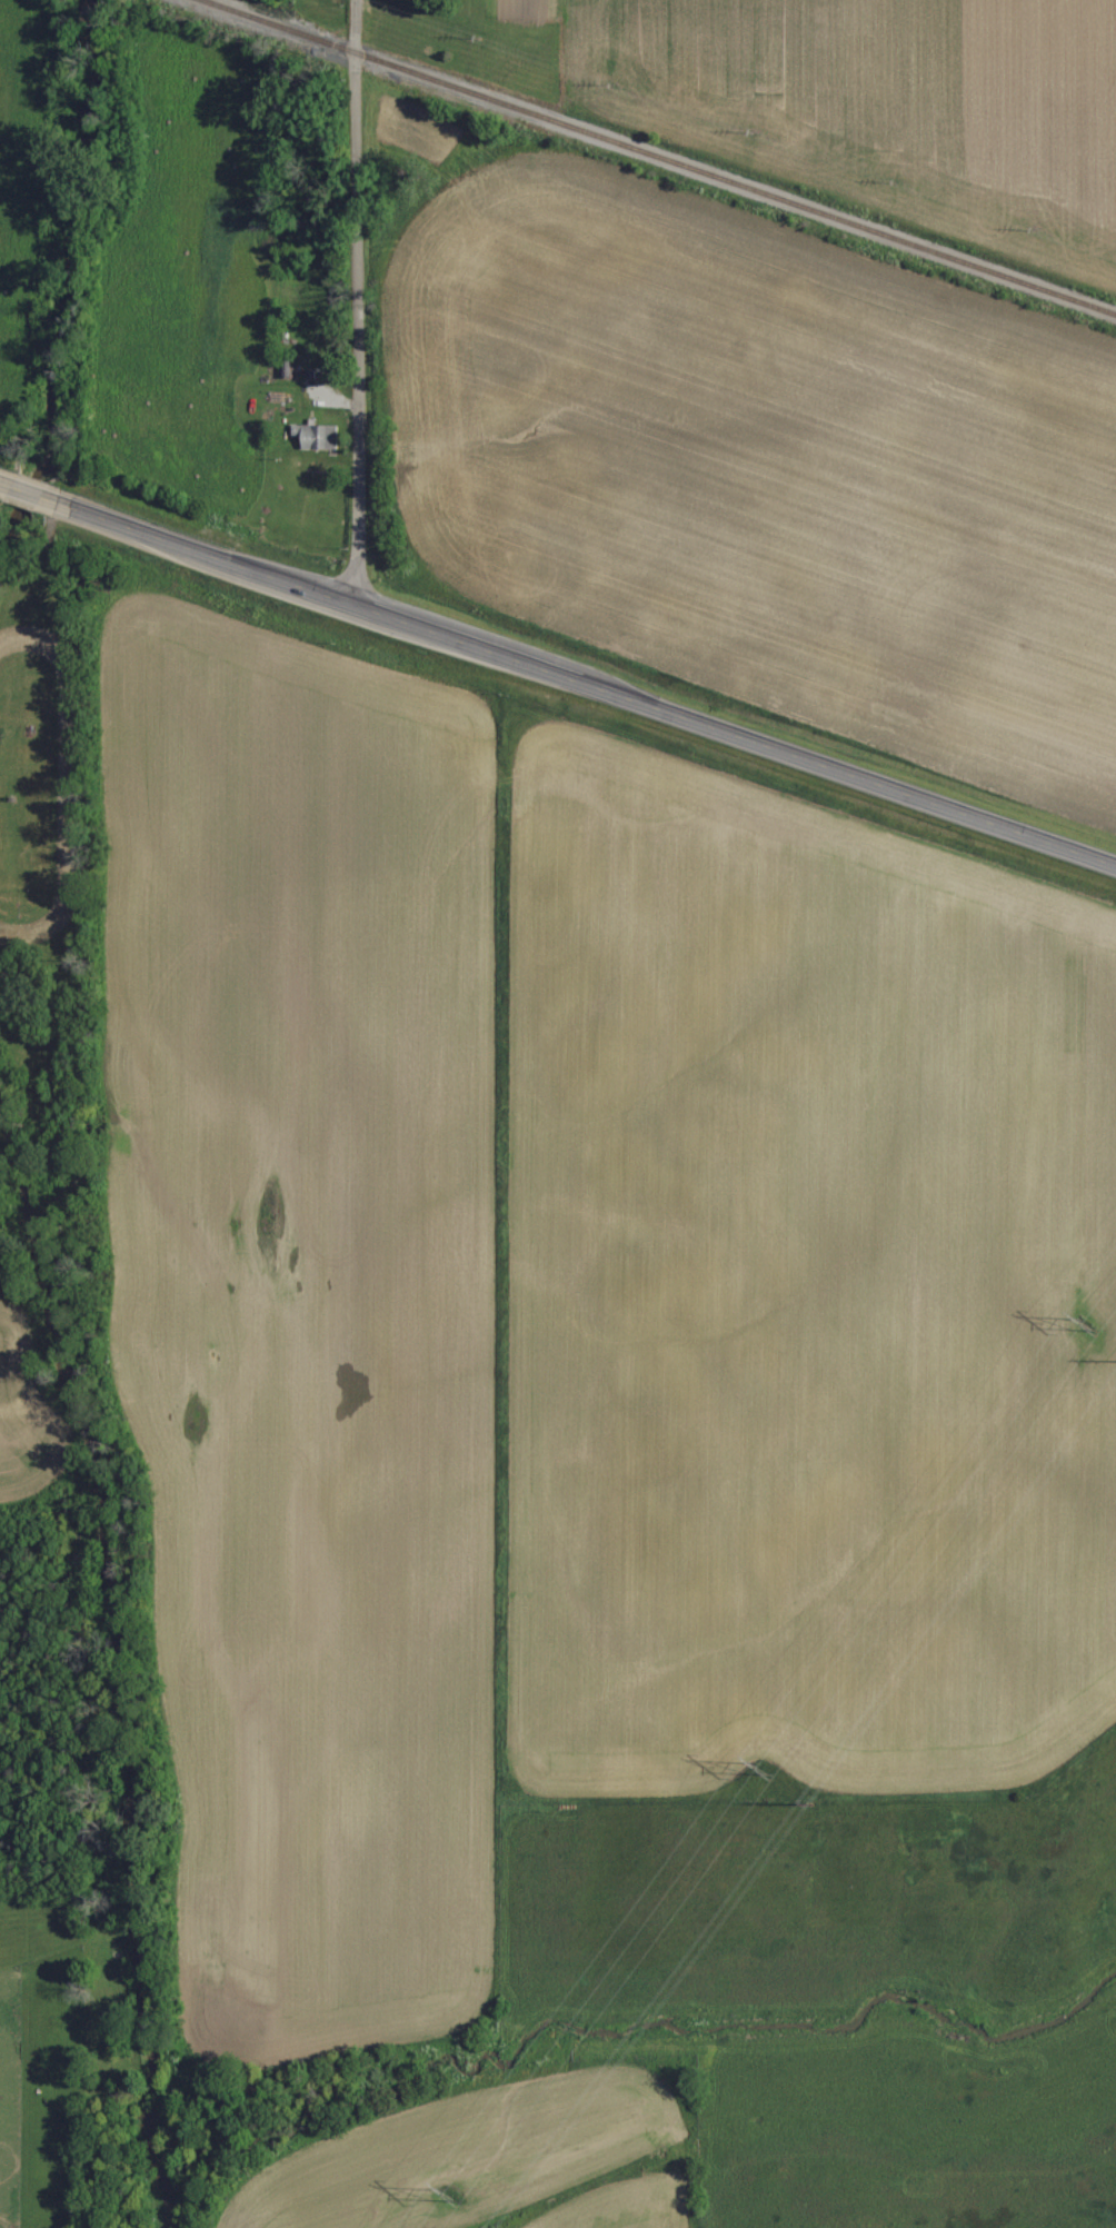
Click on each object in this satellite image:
railway: (665, 156)
road: (357, 300)
road: (8, 484)
road: (37, 495)
road: (587, 680)
power tower: (1085, 1321)
power tower: (764, 1761)
power tower: (451, 2188)

